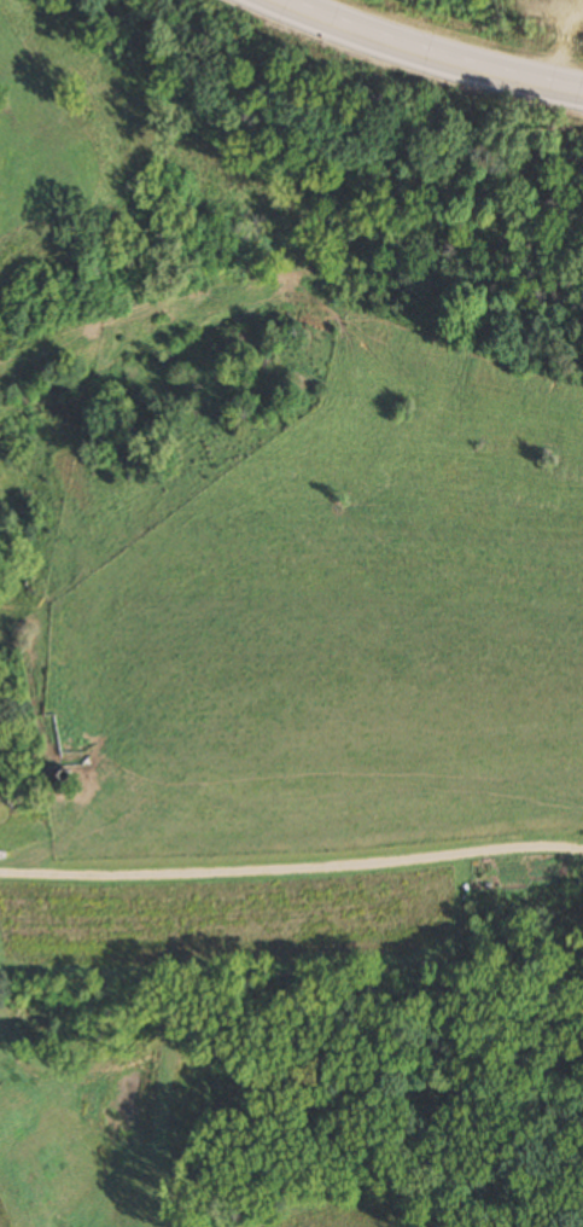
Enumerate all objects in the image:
road: (432, 48)
road: (292, 866)

